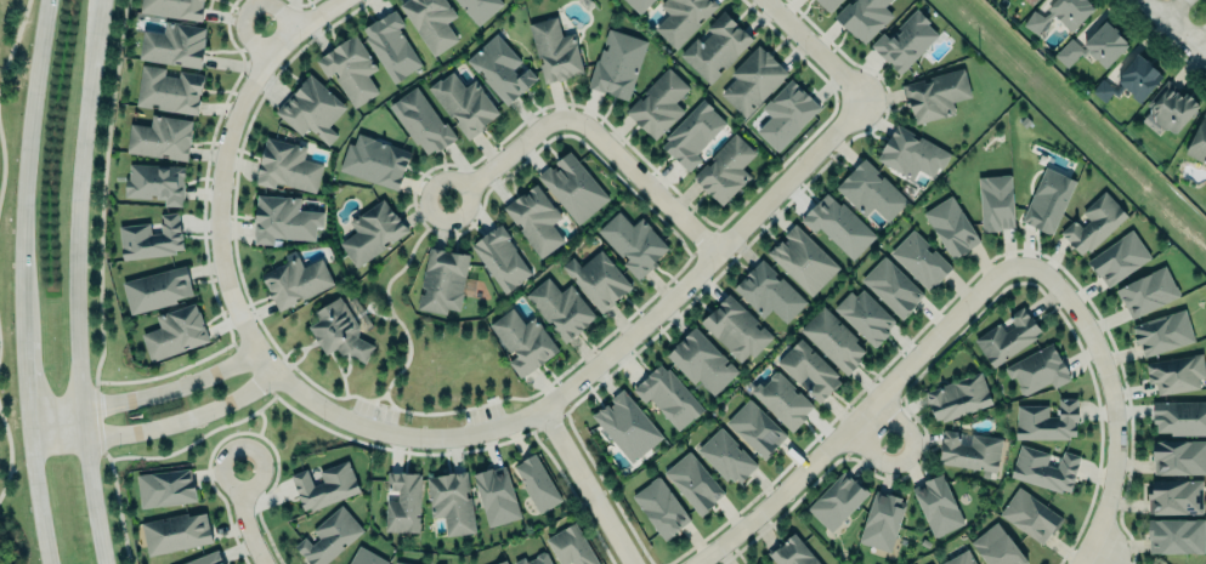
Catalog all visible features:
building: (1034, 0)
building: (638, 4)
building: (827, 4)
building: (172, 7)
road: (243, 7)
building: (479, 7)
road: (1167, 7)
building: (1059, 13)
building: (864, 17)
building: (681, 18)
building: (430, 21)
road: (1173, 28)
building: (904, 39)
road: (15, 40)
road: (1200, 40)
building: (174, 44)
building: (1104, 44)
building: (390, 45)
building: (715, 46)
road: (816, 49)
building: (554, 50)
building: (1069, 52)
building: (616, 63)
building: (499, 68)
building: (349, 69)
building: (753, 78)
building: (1127, 78)
building: (168, 90)
building: (935, 96)
building: (463, 103)
building: (658, 104)
building: (1171, 106)
building: (310, 107)
building: (786, 114)
building: (420, 121)
road: (231, 123)
building: (691, 132)
building: (160, 136)
building: (1197, 139)
building: (911, 154)
road: (505, 158)
building: (374, 160)
road: (1, 163)
building: (285, 165)
building: (725, 167)
road: (642, 180)
building: (155, 182)
building: (573, 186)
building: (870, 192)
building: (1047, 199)
building: (995, 201)
building: (282, 218)
building: (533, 220)
building: (838, 224)
building: (1093, 224)
building: (951, 227)
building: (370, 232)
building: (151, 238)
building: (632, 243)
building: (499, 256)
building: (803, 258)
building: (919, 258)
building: (1119, 258)
building: (598, 278)
building: (442, 279)
building: (294, 280)
road: (30, 281)
road: (83, 283)
building: (891, 285)
building: (155, 287)
building: (768, 290)
building: (1146, 292)
building: (560, 307)
road: (390, 309)
building: (864, 314)
building: (735, 329)
building: (336, 330)
building: (174, 331)
building: (1162, 332)
building: (1007, 336)
building: (522, 340)
building: (833, 340)
building: (701, 361)
building: (808, 369)
building: (1037, 369)
building: (1174, 374)
road: (566, 387)
road: (146, 394)
building: (667, 395)
building: (957, 395)
road: (1110, 399)
building: (782, 400)
road: (857, 415)
building: (1179, 415)
building: (1046, 421)
road: (158, 426)
building: (627, 426)
building: (754, 427)
road: (260, 429)
building: (969, 450)
road: (7, 452)
building: (726, 455)
road: (906, 455)
building: (1178, 455)
building: (1044, 467)
building: (693, 482)
building: (536, 483)
building: (323, 484)
road: (585, 485)
building: (165, 488)
building: (496, 496)
building: (1174, 496)
building: (837, 499)
building: (451, 501)
building: (402, 502)
building: (661, 506)
building: (936, 506)
building: (1029, 514)
road: (244, 518)
building: (882, 520)
building: (175, 531)
building: (1176, 535)
building: (328, 536)
building: (570, 545)
building: (996, 546)
building: (792, 552)
road: (1095, 553)
building: (366, 557)
building: (205, 558)
building: (959, 558)
building: (536, 559)
building: (504, 562)
building: (400, 563)
building: (761, 563)
building: (1151, 563)
building: (1155, 563)
building: (1161, 563)

